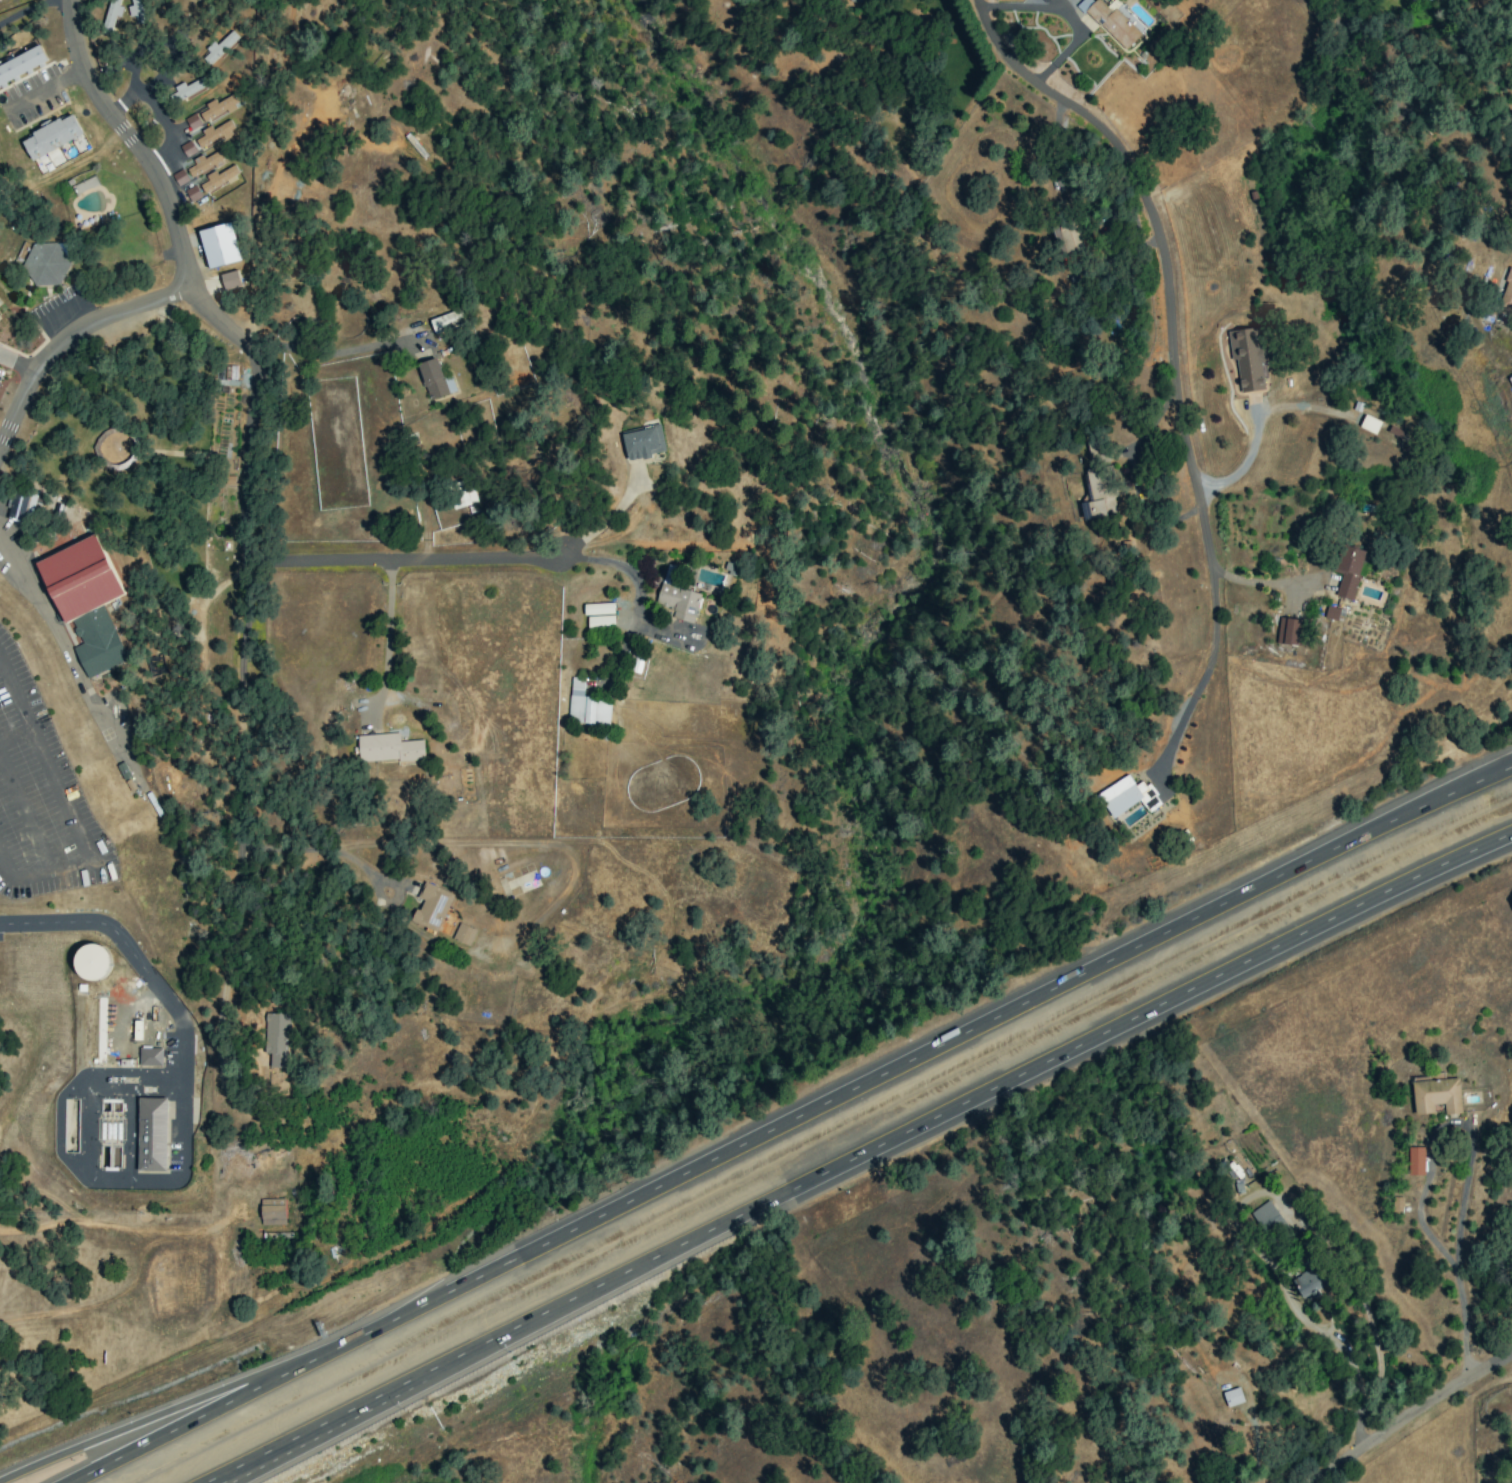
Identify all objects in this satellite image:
building: (1417, 0)
building: (1428, 0)
building: (1046, 1)
road: (26, 9)
building: (137, 11)
road: (1063, 13)
building: (110, 18)
building: (1113, 21)
building: (220, 46)
building: (21, 64)
building: (186, 90)
building: (218, 108)
building: (192, 122)
building: (214, 134)
building: (51, 136)
road: (1056, 143)
building: (187, 149)
building: (204, 163)
building: (217, 178)
building: (1067, 237)
building: (219, 245)
road: (1155, 248)
building: (46, 264)
building: (230, 280)
building: (1507, 290)
building: (445, 322)
road: (65, 337)
road: (334, 352)
building: (1248, 357)
road: (16, 369)
building: (432, 379)
building: (1510, 379)
building: (643, 443)
building: (1099, 481)
building: (464, 493)
building: (21, 506)
road: (252, 518)
road: (591, 530)
road: (398, 560)
building: (1348, 570)
road: (633, 575)
building: (669, 575)
road: (1262, 584)
building: (85, 601)
building: (679, 602)
building: (598, 609)
building: (1331, 613)
building: (600, 622)
building: (1290, 632)
road: (388, 640)
road: (61, 642)
building: (155, 665)
road: (1207, 669)
building: (586, 705)
building: (388, 748)
building: (1126, 796)
road: (65, 808)
road: (23, 816)
road: (316, 853)
building: (431, 906)
building: (463, 934)
road: (127, 948)
building: (91, 961)
building: (277, 1039)
building: (150, 1056)
building: (1436, 1095)
road: (793, 1119)
building: (151, 1134)
road: (858, 1156)
building: (1415, 1161)
road: (88, 1177)
building: (272, 1211)
road: (1457, 1222)
road: (1454, 1274)
building: (1308, 1284)
road: (1353, 1349)
building: (1232, 1397)
road: (1409, 1413)
road: (150, 1422)
road: (286, 1452)

